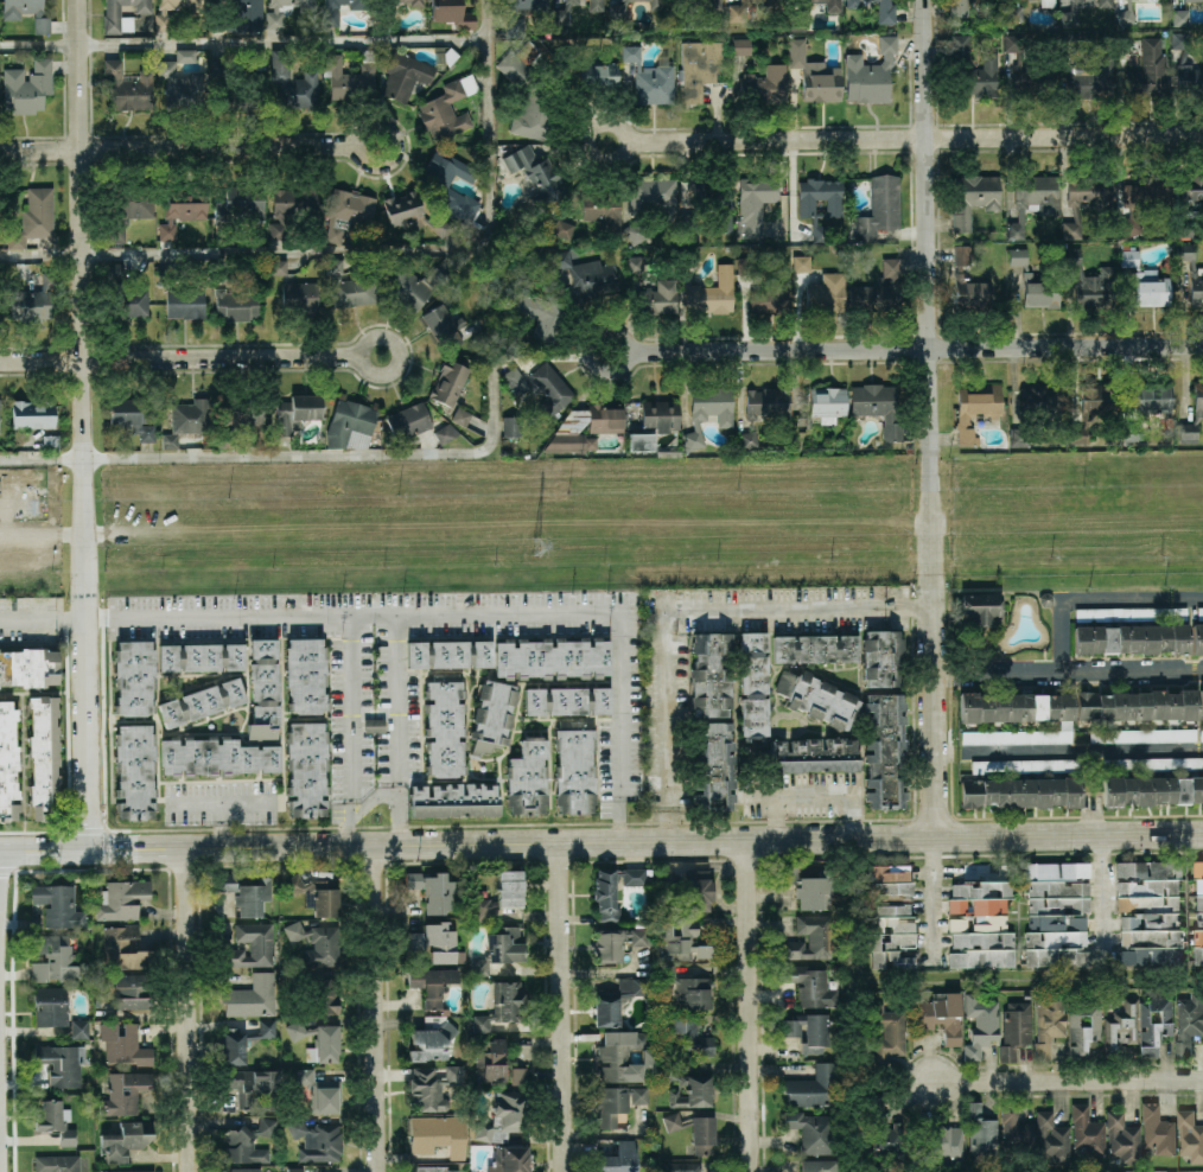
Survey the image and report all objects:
building: (629, 0)
building: (1194, 0)
building: (853, 2)
building: (1048, 2)
building: (655, 4)
building: (1105, 4)
building: (596, 5)
building: (832, 5)
building: (960, 6)
building: (338, 9)
building: (741, 9)
building: (618, 11)
building: (885, 11)
building: (1012, 11)
building: (453, 13)
building: (561, 13)
building: (1070, 14)
building: (236, 15)
building: (388, 15)
building: (676, 15)
building: (1126, 15)
building: (797, 17)
building: (1180, 17)
building: (11, 18)
building: (274, 20)
building: (164, 23)
building: (117, 25)
building: (514, 27)
building: (726, 42)
building: (1071, 45)
building: (741, 46)
building: (796, 52)
building: (1186, 64)
building: (698, 68)
building: (972, 68)
building: (1030, 69)
building: (413, 71)
building: (1147, 71)
building: (870, 72)
building: (597, 74)
building: (351, 76)
building: (650, 77)
building: (1093, 77)
building: (235, 78)
building: (293, 81)
building: (183, 82)
building: (765, 84)
building: (821, 84)
building: (27, 87)
building: (128, 87)
building: (528, 91)
building: (447, 108)
road: (912, 140)
road: (622, 144)
road: (392, 145)
road: (177, 147)
building: (476, 151)
building: (536, 174)
building: (1191, 187)
building: (450, 193)
building: (653, 196)
building: (973, 196)
building: (1087, 197)
building: (1032, 198)
building: (755, 203)
building: (241, 204)
building: (604, 205)
building: (834, 205)
building: (127, 206)
building: (293, 206)
building: (880, 206)
building: (706, 208)
building: (182, 209)
building: (348, 210)
building: (1133, 210)
building: (409, 211)
building: (33, 217)
building: (562, 228)
building: (1183, 228)
building: (637, 230)
road: (489, 248)
road: (243, 250)
building: (692, 257)
building: (634, 263)
building: (746, 265)
building: (254, 267)
building: (279, 267)
building: (1191, 272)
building: (166, 273)
building: (590, 276)
building: (968, 279)
building: (1145, 280)
building: (1089, 281)
building: (1035, 284)
building: (820, 285)
building: (349, 286)
building: (412, 287)
building: (878, 289)
building: (122, 293)
building: (712, 293)
building: (770, 295)
building: (300, 297)
building: (658, 298)
building: (233, 300)
building: (1, 301)
building: (33, 302)
building: (185, 302)
road: (83, 308)
building: (537, 312)
building: (444, 326)
road: (912, 348)
road: (623, 351)
road: (356, 356)
road: (178, 361)
building: (515, 380)
building: (448, 382)
building: (550, 388)
building: (1198, 399)
building: (765, 402)
building: (1147, 406)
building: (822, 407)
building: (880, 407)
building: (1094, 407)
building: (976, 409)
building: (708, 410)
building: (1035, 410)
building: (297, 412)
building: (32, 413)
building: (244, 413)
building: (460, 415)
building: (131, 416)
road: (933, 418)
building: (187, 420)
building: (349, 420)
building: (408, 420)
building: (650, 420)
building: (1166, 421)
building: (510, 426)
building: (605, 426)
building: (445, 432)
building: (223, 439)
building: (747, 439)
building: (50, 441)
building: (908, 448)
power tower: (535, 548)
road: (1095, 600)
building: (980, 606)
road: (682, 610)
building: (1199, 612)
building: (1131, 613)
road: (352, 616)
road: (43, 618)
building: (1196, 637)
building: (1132, 638)
building: (816, 648)
building: (448, 654)
building: (200, 656)
building: (881, 657)
building: (553, 658)
building: (28, 667)
road: (1068, 669)
building: (306, 674)
building: (711, 674)
building: (134, 677)
building: (753, 684)
building: (265, 689)
building: (816, 698)
building: (567, 700)
building: (202, 701)
building: (1201, 703)
building: (1137, 705)
building: (1017, 707)
building: (492, 715)
building: (374, 724)
building: (445, 725)
road: (620, 727)
road: (348, 730)
road: (397, 730)
road: (87, 733)
building: (1201, 733)
building: (1142, 734)
building: (1016, 735)
building: (884, 750)
road: (1084, 750)
building: (215, 756)
building: (815, 756)
building: (44, 758)
building: (8, 760)
building: (713, 763)
building: (1153, 763)
building: (1026, 765)
building: (574, 766)
building: (306, 767)
building: (133, 770)
building: (528, 777)
building: (1152, 790)
building: (1021, 791)
road: (817, 796)
building: (456, 800)
road: (222, 802)
road: (776, 817)
road: (222, 824)
road: (601, 842)
building: (807, 887)
building: (432, 888)
building: (613, 888)
building: (693, 888)
building: (250, 893)
building: (318, 893)
building: (499, 894)
road: (1100, 897)
building: (119, 898)
road: (929, 900)
building: (58, 904)
building: (1148, 912)
building: (1056, 913)
building: (1197, 913)
building: (982, 916)
building: (890, 918)
building: (808, 938)
building: (434, 941)
building: (682, 941)
building: (316, 942)
building: (618, 942)
building: (250, 944)
building: (123, 948)
building: (498, 948)
building: (460, 956)
building: (53, 958)
building: (808, 982)
building: (432, 987)
building: (687, 987)
building: (126, 991)
building: (323, 994)
building: (250, 995)
building: (615, 1000)
road: (753, 1005)
building: (502, 1006)
road: (564, 1007)
road: (376, 1008)
building: (56, 1009)
road: (190, 1009)
building: (941, 1014)
building: (1048, 1021)
building: (1189, 1021)
building: (1153, 1024)
building: (980, 1025)
building: (1083, 1026)
building: (1014, 1028)
building: (808, 1030)
building: (889, 1031)
building: (685, 1036)
building: (432, 1038)
building: (318, 1040)
building: (123, 1043)
building: (233, 1050)
building: (624, 1056)
building: (63, 1062)
building: (496, 1062)
road: (1069, 1079)
park: (854, 1081)
building: (252, 1085)
building: (431, 1085)
building: (687, 1087)
building: (811, 1087)
building: (318, 1090)
building: (125, 1093)
building: (616, 1103)
building: (502, 1115)
building: (56, 1121)
building: (885, 1128)
building: (694, 1130)
building: (813, 1130)
building: (980, 1130)
building: (1087, 1130)
building: (1157, 1130)
building: (1036, 1134)
building: (1190, 1135)
building: (126, 1139)
building: (317, 1139)
building: (1122, 1139)
building: (433, 1141)
building: (946, 1141)
building: (248, 1142)
building: (616, 1158)
building: (510, 1159)
building: (62, 1164)
building: (819, 1165)
building: (681, 1166)
building: (295, 1168)
building: (432, 1168)
building: (241, 1170)
building: (127, 1171)
park: (1125, 1171)

